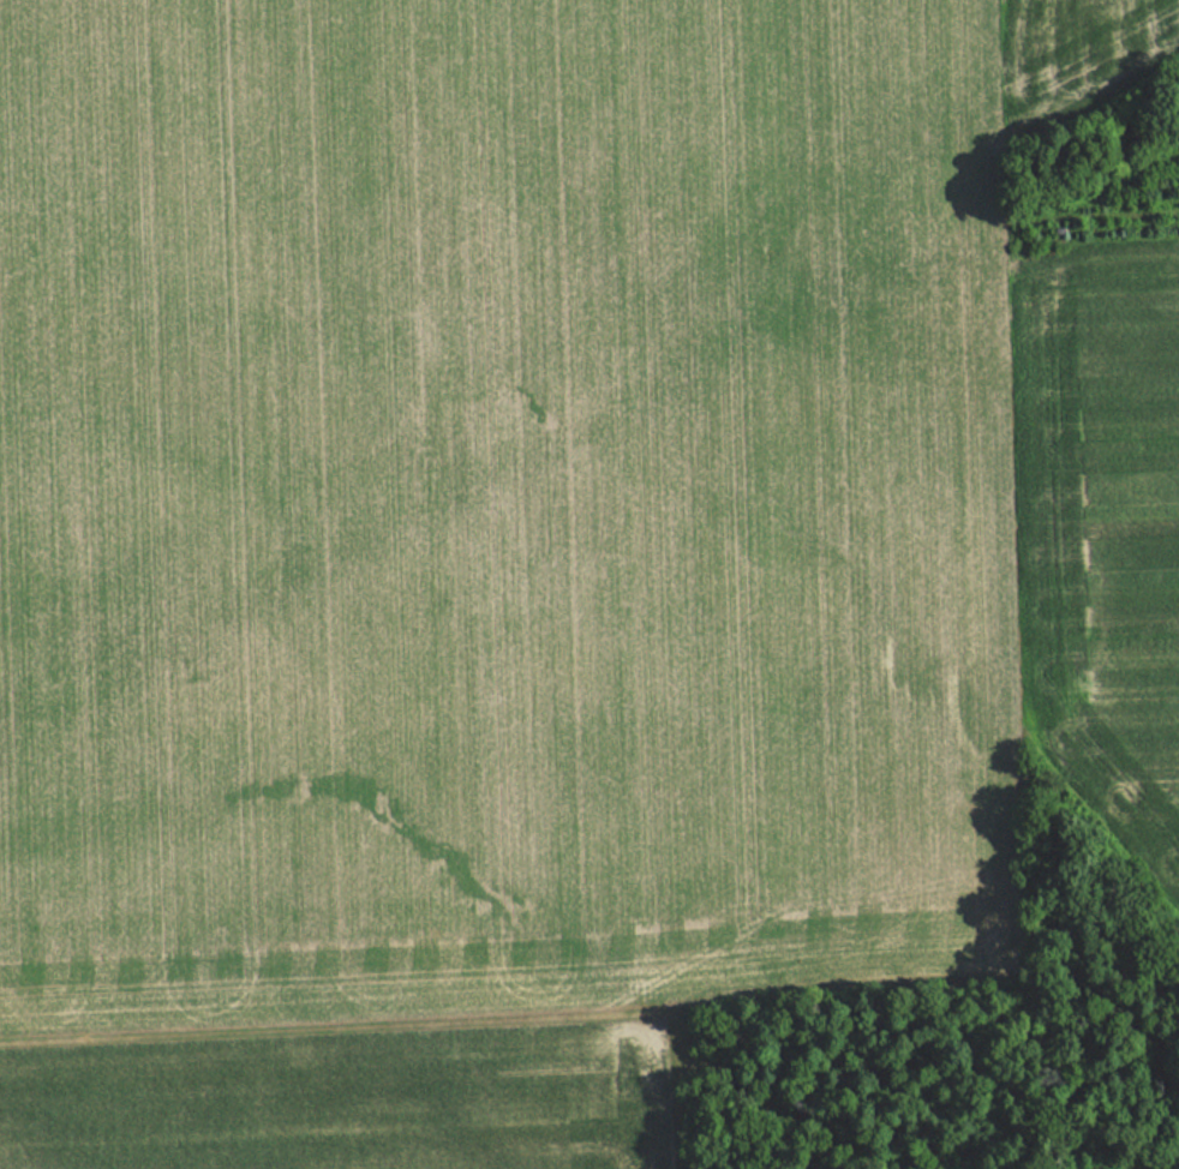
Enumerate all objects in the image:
crop: (503, 504)

